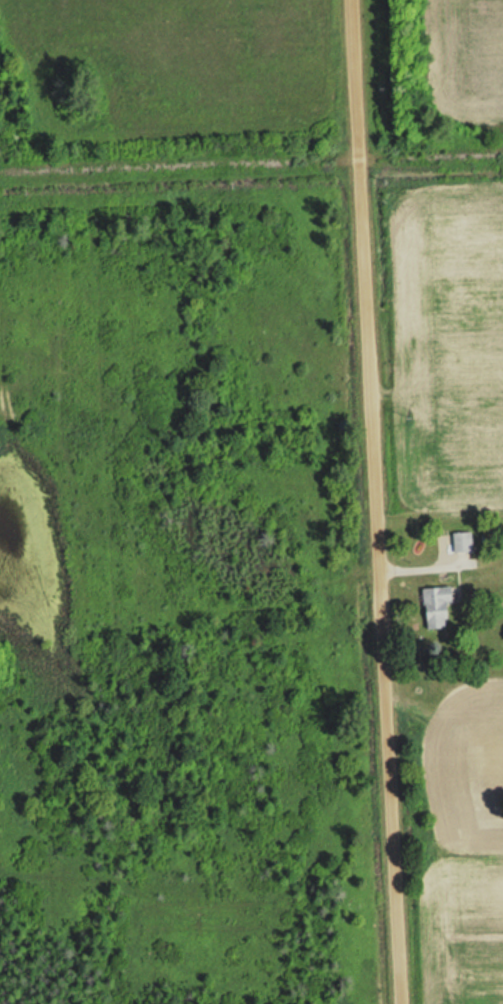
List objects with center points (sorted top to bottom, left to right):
railway: (251, 163)
road: (377, 501)
building: (466, 542)
building: (443, 606)

